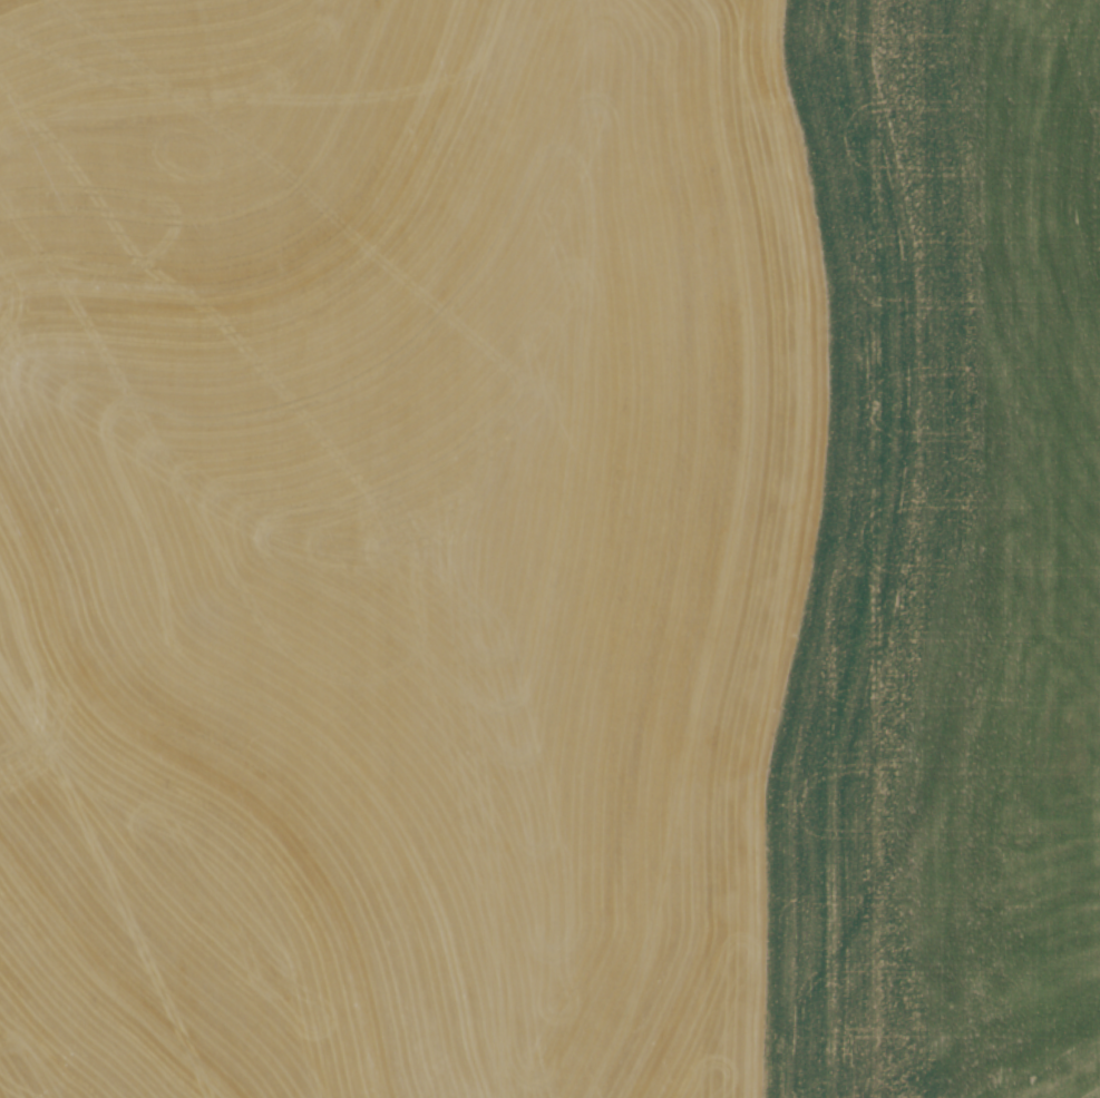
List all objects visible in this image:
crop: (398, 542)

